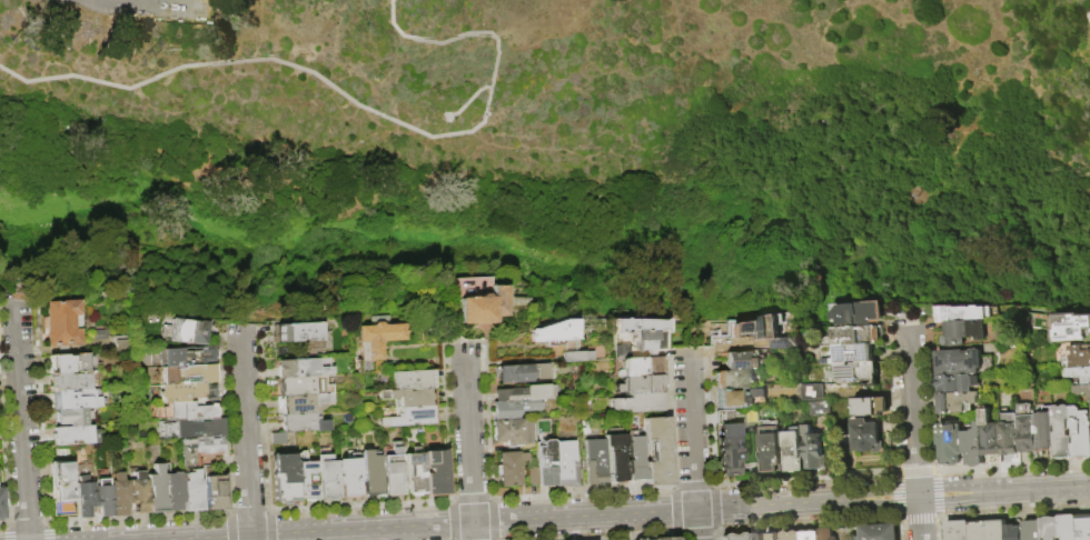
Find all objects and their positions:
parking lot: (82, 1)
road: (148, 2)
road: (1086, 18)
road: (348, 98)
road: (467, 98)
park: (567, 139)
building: (474, 299)
building: (858, 313)
building: (964, 313)
building: (62, 322)
building: (1070, 329)
building: (187, 330)
building: (553, 331)
building: (297, 332)
building: (762, 332)
building: (958, 333)
building: (99, 334)
building: (856, 336)
building: (640, 338)
building: (375, 344)
building: (848, 354)
building: (182, 356)
building: (574, 356)
building: (1079, 357)
building: (741, 360)
building: (71, 362)
building: (958, 362)
building: (638, 367)
building: (303, 368)
building: (521, 372)
building: (854, 373)
building: (187, 374)
building: (1080, 376)
building: (412, 379)
building: (732, 379)
building: (72, 381)
building: (638, 384)
building: (957, 384)
building: (301, 386)
building: (185, 391)
building: (1082, 391)
building: (812, 392)
building: (524, 393)
building: (736, 398)
building: (76, 399)
building: (303, 402)
building: (635, 402)
building: (957, 403)
building: (409, 407)
building: (863, 407)
building: (880, 407)
building: (512, 409)
building: (817, 410)
building: (188, 411)
building: (72, 416)
building: (724, 418)
road: (21, 420)
building: (304, 422)
building: (201, 428)
road: (246, 431)
building: (511, 431)
road: (914, 432)
building: (1043, 433)
building: (1061, 433)
building: (1080, 433)
building: (75, 434)
building: (1008, 434)
building: (1027, 434)
building: (279, 438)
building: (864, 438)
road: (468, 441)
building: (974, 442)
building: (990, 442)
road: (692, 443)
building: (769, 446)
building: (950, 446)
building: (198, 448)
building: (657, 451)
building: (811, 451)
building: (792, 452)
building: (729, 456)
building: (615, 457)
building: (634, 457)
building: (594, 461)
building: (545, 463)
building: (564, 463)
building: (509, 468)
building: (393, 471)
building: (414, 471)
building: (370, 473)
building: (436, 473)
building: (532, 476)
building: (284, 477)
building: (306, 478)
building: (327, 478)
building: (349, 478)
building: (61, 480)
building: (172, 489)
building: (156, 490)
building: (214, 490)
building: (191, 491)
building: (138, 492)
building: (119, 493)
building: (102, 497)
building: (83, 498)
building: (1, 504)
road: (624, 512)
building: (1083, 526)
building: (1068, 527)
building: (1049, 528)
building: (957, 530)
building: (995, 530)
building: (1031, 530)
building: (978, 531)
building: (876, 532)
building: (1012, 532)
building: (843, 533)
building: (809, 534)
building: (825, 534)
building: (732, 536)
building: (771, 536)
building: (791, 536)
building: (752, 537)
building: (664, 538)

